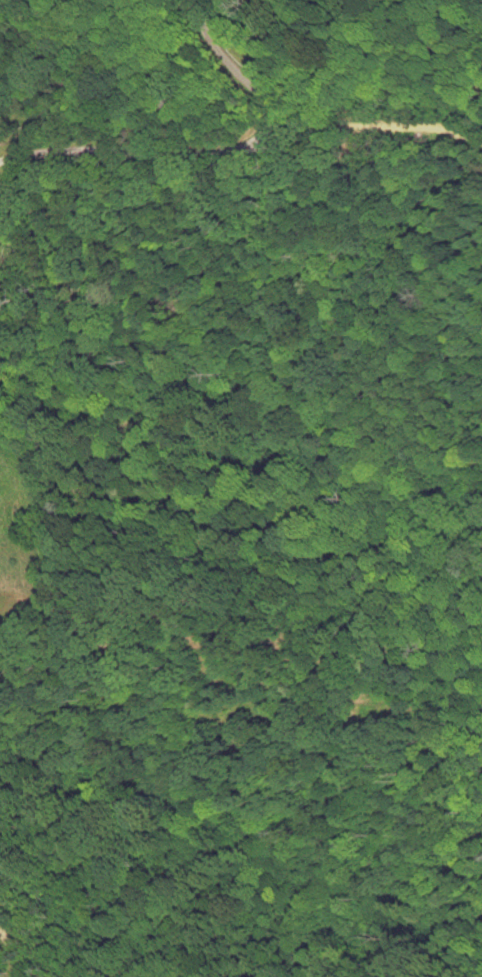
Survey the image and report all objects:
road: (202, 150)
road: (233, 291)

